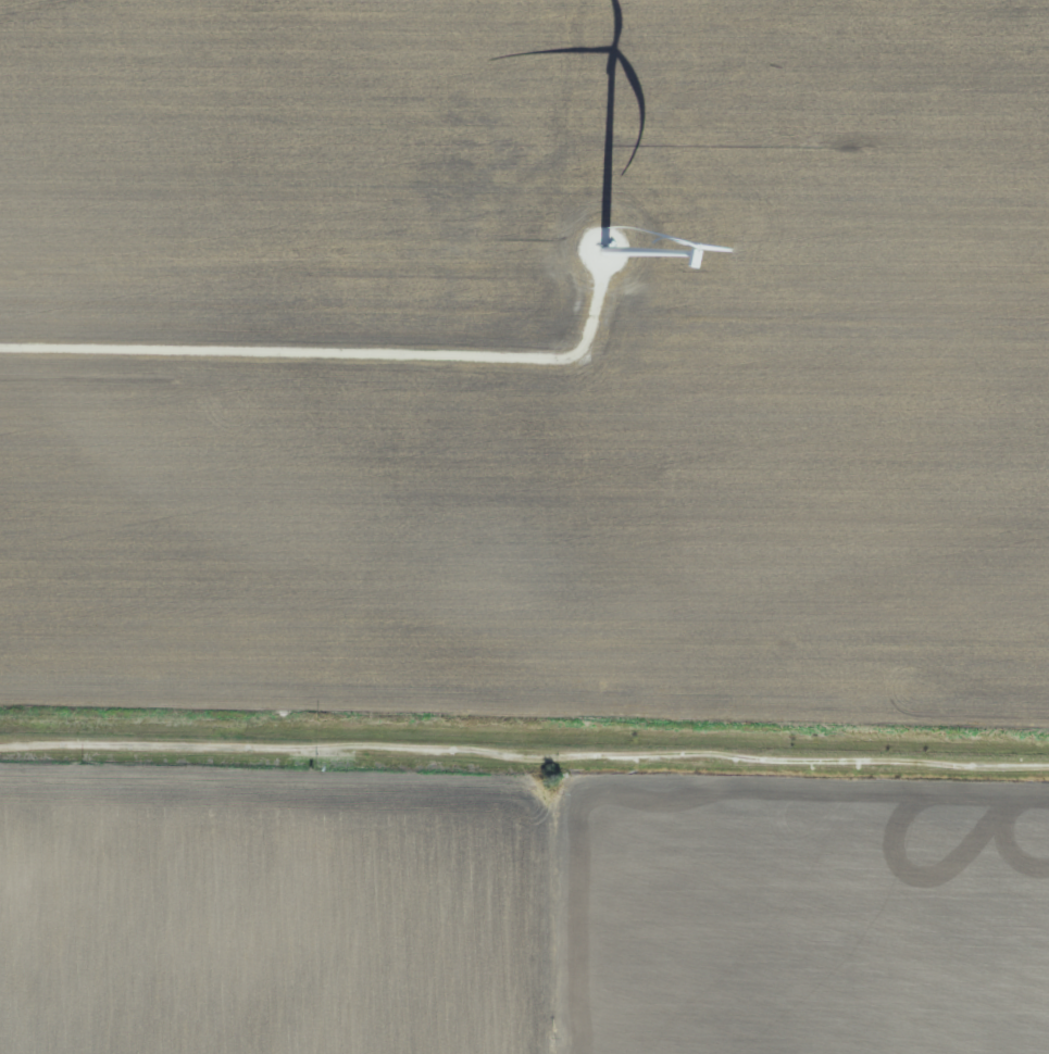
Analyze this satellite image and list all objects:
wind turbine: (598, 253)
road: (524, 761)

